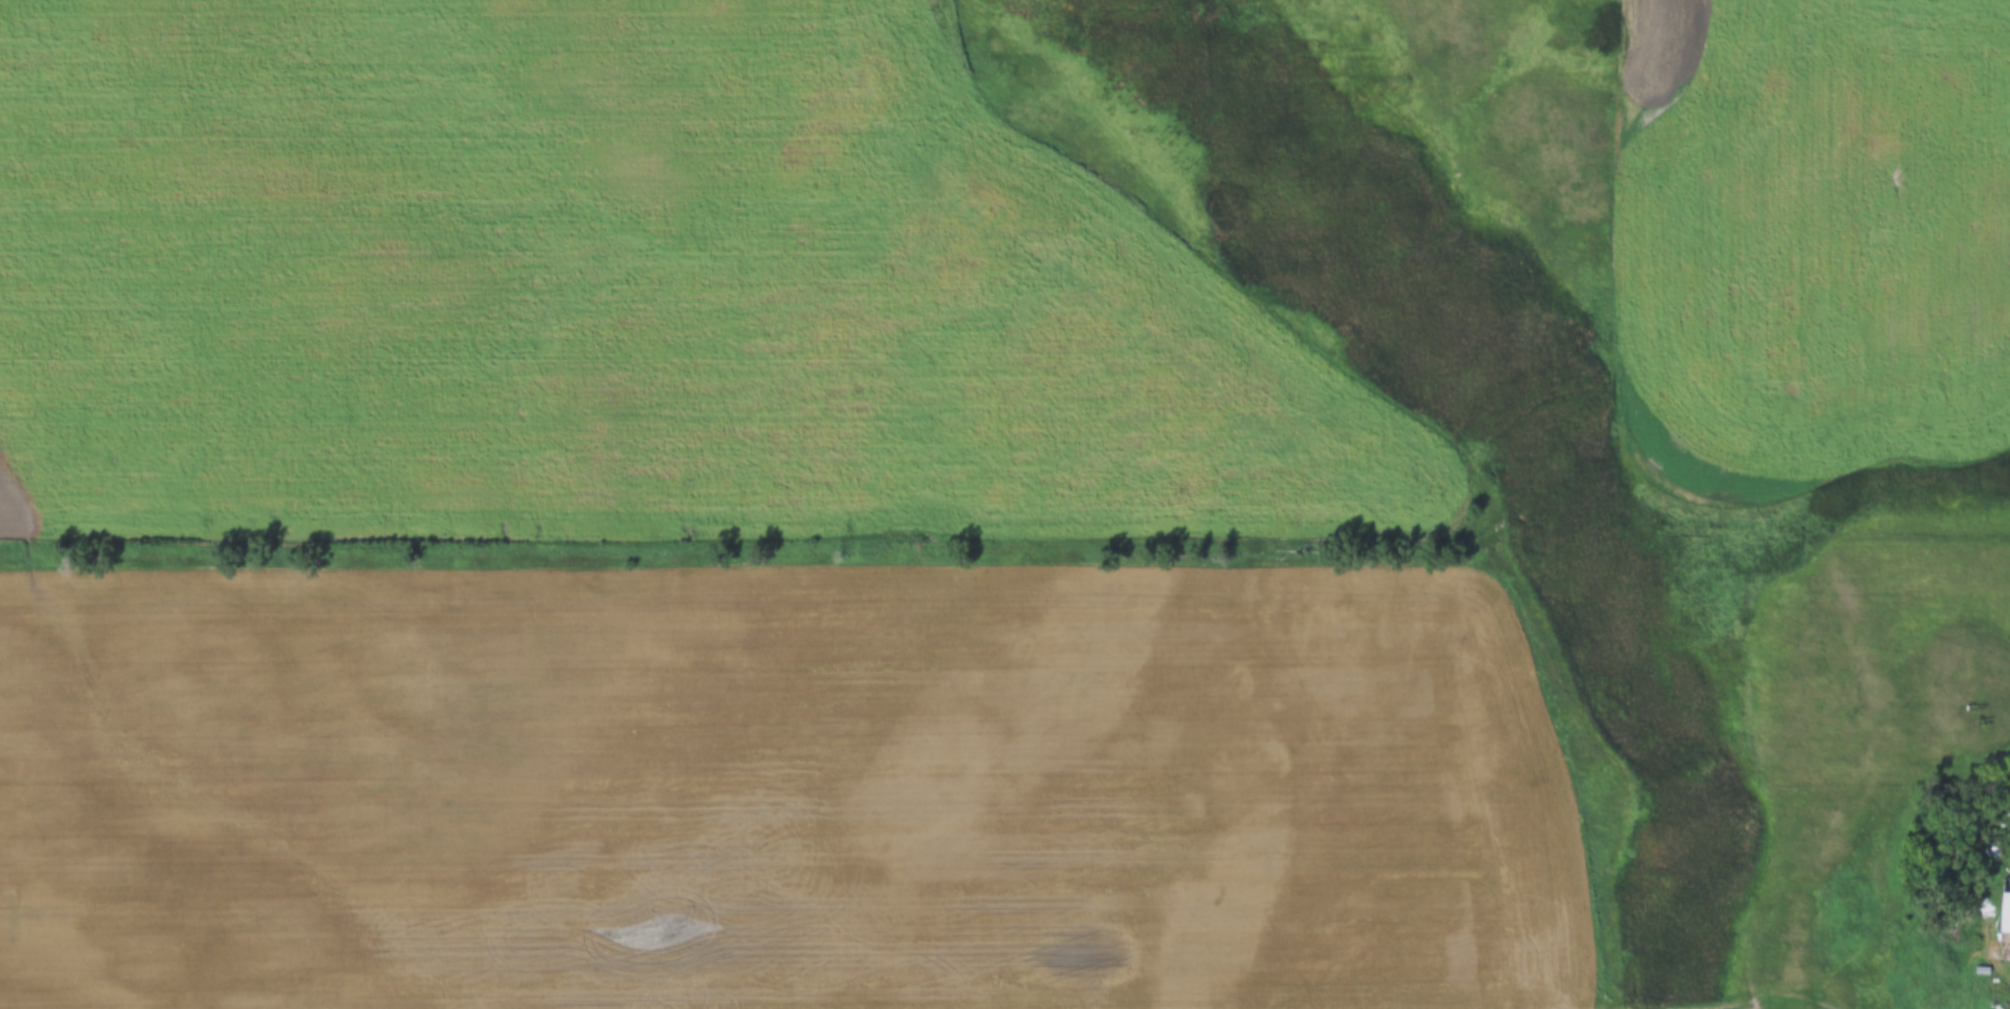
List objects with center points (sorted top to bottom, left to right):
building: (2002, 922)

